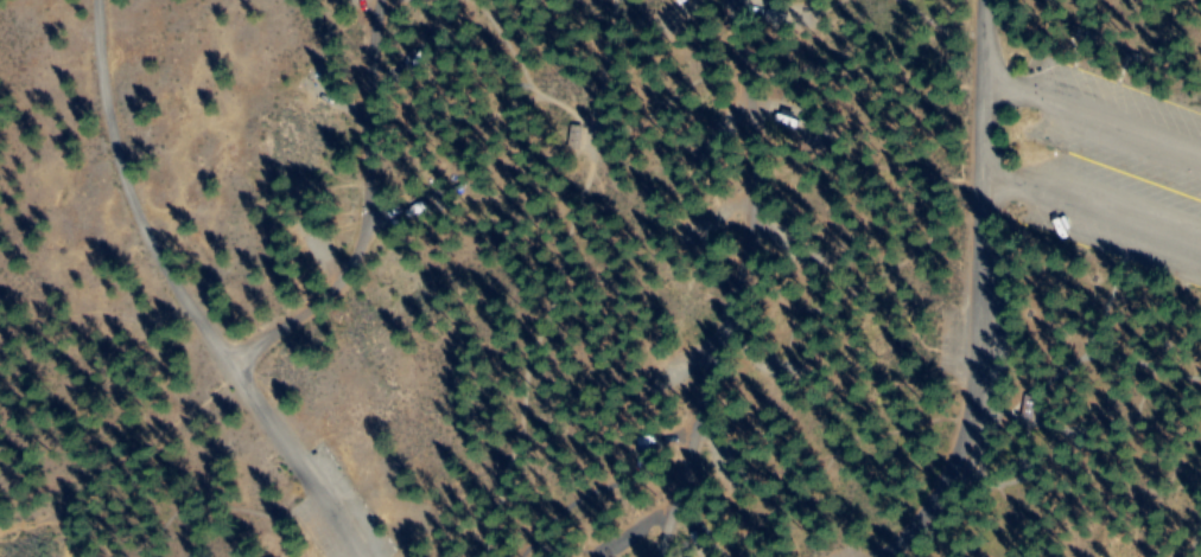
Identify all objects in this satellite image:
road: (1092, 113)
parking lot: (1123, 175)
road: (1092, 206)
road: (375, 212)
road: (724, 277)
road: (976, 284)
road: (182, 299)
road: (78, 487)
parking lot: (339, 512)
road: (1192, 537)

